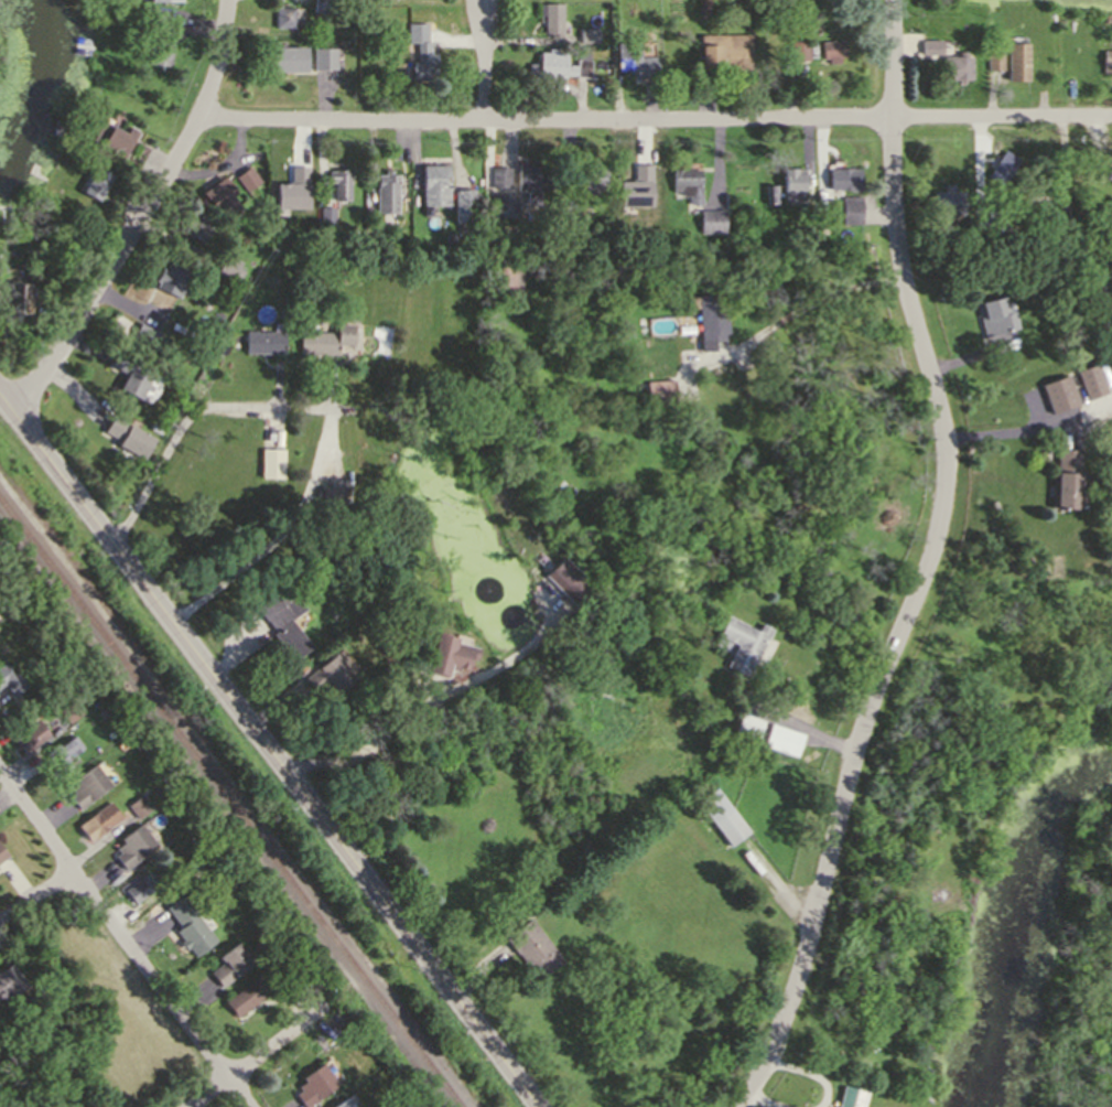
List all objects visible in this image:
building: (164, 0)
road: (482, 1)
building: (322, 6)
building: (282, 15)
building: (549, 17)
building: (1104, 18)
building: (415, 32)
building: (589, 35)
building: (159, 39)
building: (930, 45)
building: (797, 50)
building: (833, 51)
building: (723, 55)
building: (323, 57)
building: (287, 60)
building: (633, 60)
building: (994, 60)
road: (483, 61)
building: (1016, 61)
building: (1106, 61)
building: (421, 63)
building: (547, 64)
building: (581, 64)
building: (956, 66)
road: (659, 120)
building: (114, 136)
building: (1091, 162)
building: (1002, 166)
building: (634, 173)
building: (498, 175)
building: (848, 176)
building: (245, 178)
building: (591, 178)
building: (530, 179)
building: (96, 182)
building: (338, 182)
building: (433, 183)
building: (685, 183)
building: (791, 183)
building: (638, 189)
building: (295, 191)
building: (385, 192)
building: (769, 193)
building: (220, 196)
building: (566, 203)
building: (462, 204)
building: (504, 204)
building: (946, 204)
building: (849, 209)
building: (1067, 211)
road: (143, 212)
building: (1040, 212)
building: (326, 214)
building: (709, 221)
building: (302, 222)
building: (197, 225)
building: (614, 225)
building: (987, 227)
building: (942, 230)
building: (1010, 236)
building: (283, 255)
building: (226, 266)
building: (173, 271)
building: (505, 279)
building: (15, 295)
road: (797, 309)
building: (706, 314)
building: (994, 318)
building: (141, 333)
building: (324, 340)
building: (261, 341)
building: (128, 372)
building: (1088, 380)
road: (77, 388)
building: (658, 390)
building: (1056, 393)
road: (1004, 434)
building: (126, 437)
road: (169, 444)
building: (270, 462)
building: (1067, 477)
building: (332, 491)
building: (563, 491)
road: (280, 535)
road: (924, 567)
building: (566, 583)
building: (282, 623)
building: (1, 625)
building: (743, 642)
building: (663, 655)
building: (443, 657)
building: (302, 667)
building: (330, 676)
building: (10, 679)
road: (417, 711)
building: (69, 712)
road: (806, 723)
building: (748, 724)
building: (108, 729)
building: (30, 737)
building: (781, 738)
road: (271, 748)
building: (61, 754)
building: (71, 762)
building: (87, 784)
building: (147, 792)
railway: (229, 799)
building: (138, 802)
building: (693, 812)
building: (721, 815)
building: (93, 821)
building: (132, 845)
building: (1, 853)
building: (608, 862)
building: (187, 866)
building: (140, 886)
road: (35, 896)
building: (868, 911)
building: (188, 925)
road: (125, 943)
building: (532, 946)
building: (33, 955)
building: (229, 963)
building: (10, 981)
building: (247, 996)
building: (355, 1036)
road: (267, 1046)
building: (313, 1083)
building: (1, 1096)
building: (848, 1097)
building: (341, 1103)
building: (67, 1105)

